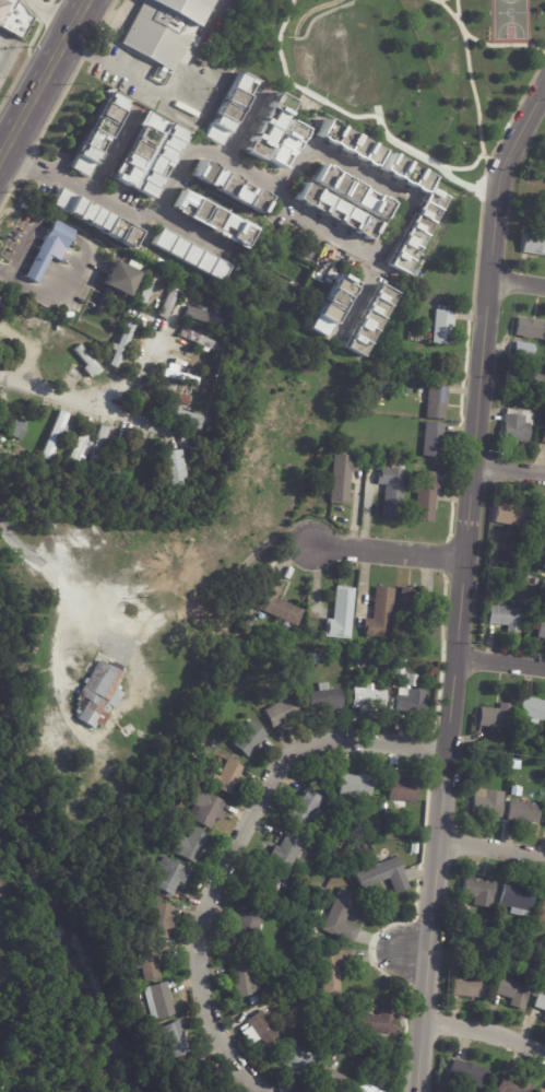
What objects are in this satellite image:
building: (13, 17)
park: (508, 19)
building: (165, 31)
road: (198, 45)
road: (133, 67)
park: (396, 69)
road: (44, 80)
railway: (49, 92)
building: (228, 108)
road: (245, 122)
building: (268, 126)
road: (312, 129)
building: (98, 134)
building: (164, 134)
building: (348, 143)
building: (285, 144)
building: (137, 149)
road: (2, 150)
building: (159, 161)
road: (32, 165)
building: (406, 174)
building: (229, 187)
building: (351, 192)
building: (335, 212)
road: (307, 216)
building: (94, 219)
building: (212, 219)
building: (417, 232)
road: (192, 234)
building: (534, 243)
building: (49, 249)
building: (189, 256)
building: (120, 279)
road: (519, 285)
building: (146, 291)
road: (357, 297)
building: (170, 300)
building: (4, 305)
building: (330, 306)
building: (204, 317)
building: (29, 319)
building: (370, 321)
building: (442, 327)
building: (531, 328)
building: (200, 340)
building: (121, 344)
road: (26, 347)
building: (523, 350)
building: (7, 354)
building: (86, 362)
building: (183, 368)
road: (137, 373)
building: (537, 378)
building: (522, 394)
road: (72, 397)
building: (174, 397)
building: (436, 401)
building: (181, 416)
building: (517, 425)
building: (13, 427)
building: (55, 435)
building: (543, 437)
building: (433, 439)
building: (185, 441)
building: (98, 444)
building: (79, 447)
building: (118, 455)
building: (139, 462)
building: (175, 470)
road: (510, 471)
building: (342, 478)
building: (392, 489)
building: (427, 494)
building: (512, 516)
road: (19, 543)
road: (388, 555)
building: (505, 566)
building: (536, 580)
road: (462, 582)
building: (543, 586)
building: (276, 601)
building: (538, 602)
building: (412, 607)
building: (341, 613)
building: (380, 613)
building: (506, 618)
building: (542, 627)
building: (315, 653)
building: (374, 662)
road: (498, 662)
building: (399, 670)
building: (411, 679)
building: (97, 693)
building: (324, 698)
building: (368, 698)
building: (407, 702)
building: (532, 709)
building: (280, 713)
building: (496, 716)
building: (39, 732)
building: (248, 738)
building: (54, 747)
building: (67, 751)
building: (194, 752)
building: (516, 753)
building: (478, 761)
building: (516, 763)
building: (226, 776)
building: (356, 785)
building: (402, 790)
building: (487, 802)
building: (306, 807)
building: (203, 808)
building: (524, 811)
building: (348, 818)
building: (393, 831)
building: (341, 832)
building: (189, 845)
building: (367, 845)
road: (229, 847)
road: (491, 847)
building: (285, 850)
building: (167, 874)
building: (383, 874)
building: (264, 884)
building: (479, 891)
building: (517, 899)
building: (541, 912)
building: (341, 916)
building: (159, 920)
building: (488, 926)
building: (247, 927)
building: (477, 929)
building: (293, 932)
building: (540, 942)
road: (423, 953)
building: (143, 962)
building: (544, 967)
building: (333, 970)
building: (245, 981)
building: (470, 987)
building: (513, 991)
building: (301, 994)
building: (155, 1000)
building: (253, 1000)
building: (540, 1000)
building: (303, 1003)
building: (287, 1010)
building: (308, 1012)
building: (339, 1017)
building: (544, 1018)
building: (379, 1019)
building: (263, 1030)
road: (485, 1032)
building: (174, 1038)
building: (393, 1043)
building: (296, 1058)
building: (469, 1073)
building: (194, 1078)
building: (331, 1080)
building: (23, 1083)
building: (513, 1084)
building: (366, 1089)
building: (542, 1091)

